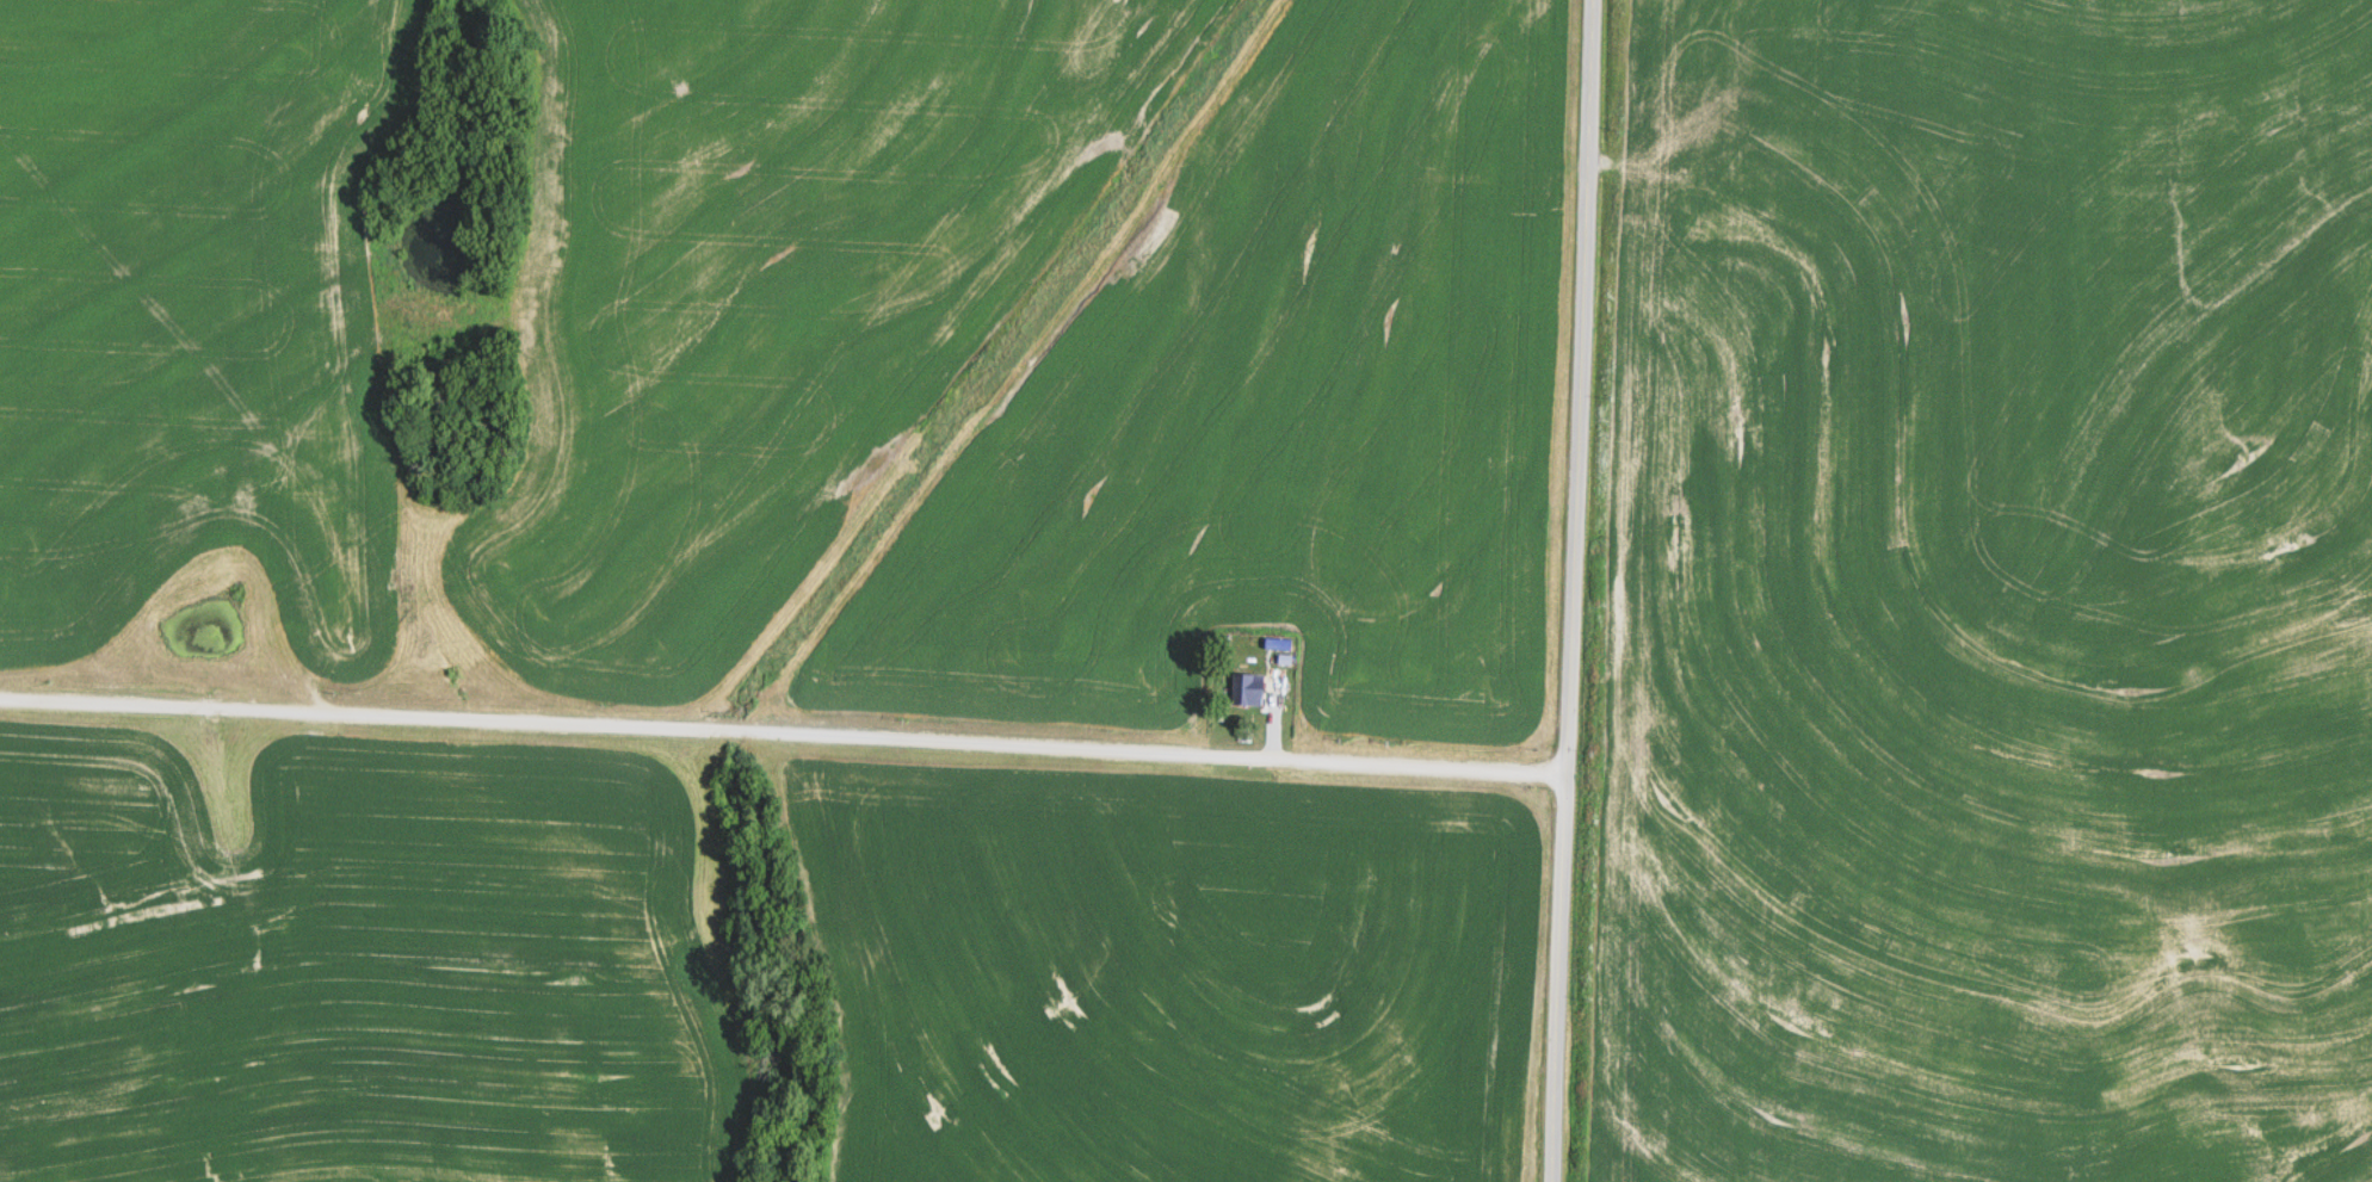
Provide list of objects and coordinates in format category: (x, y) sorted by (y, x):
road: (1571, 590)
building: (1253, 689)
road: (782, 729)

